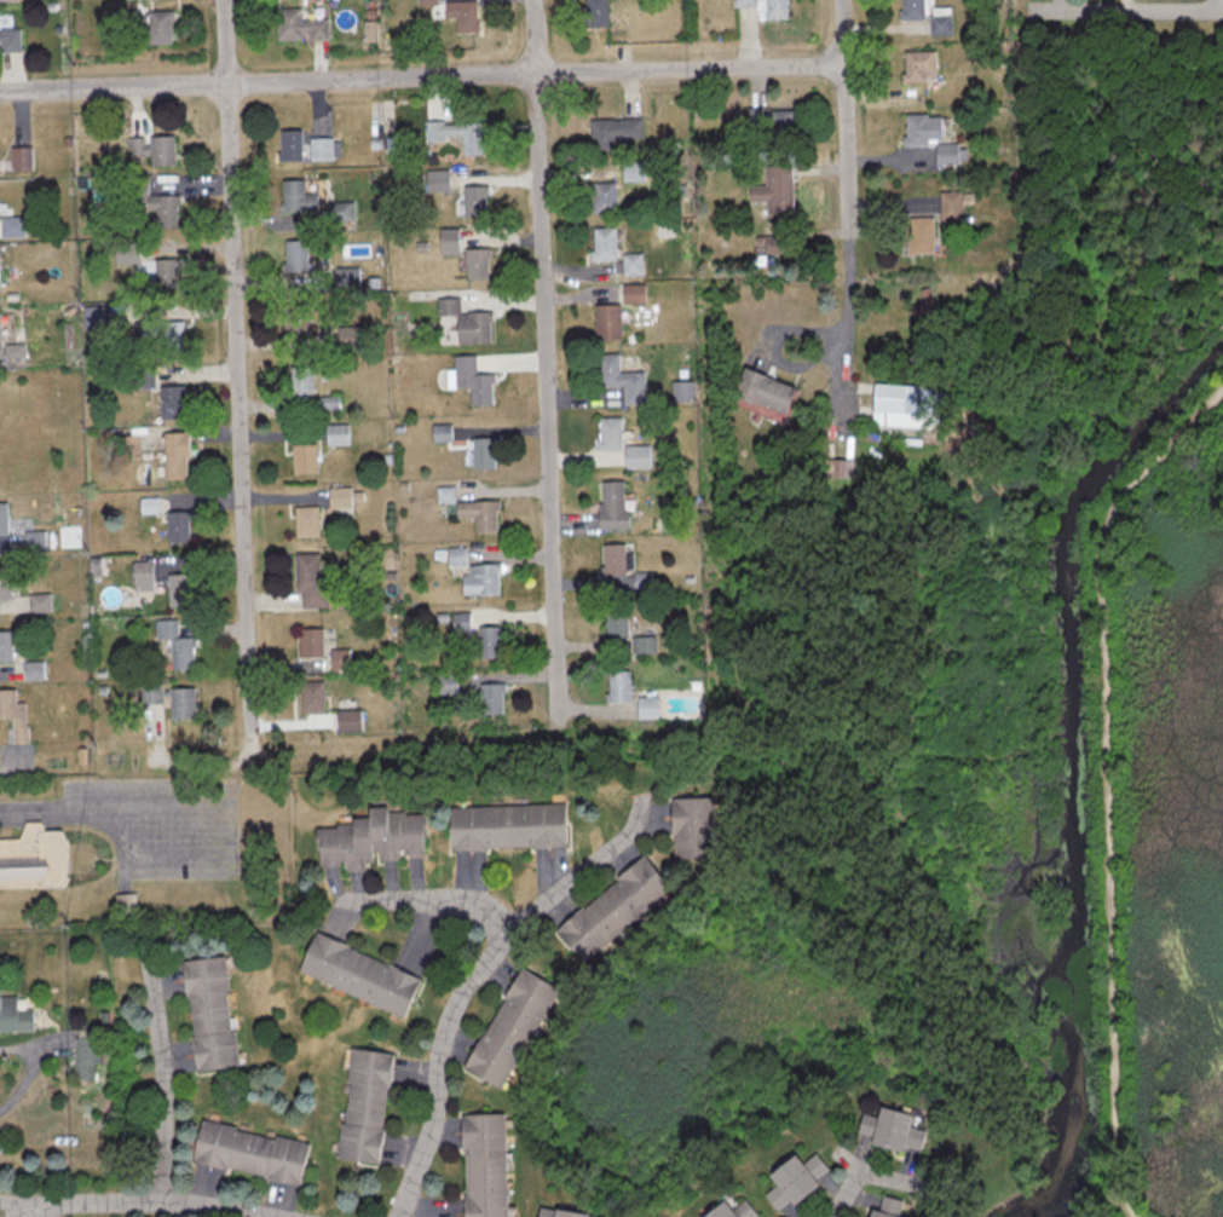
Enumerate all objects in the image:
building: (8, 0)
building: (765, 7)
building: (912, 10)
road: (1126, 11)
building: (593, 13)
building: (460, 16)
building: (298, 27)
building: (157, 28)
building: (10, 36)
building: (917, 67)
road: (422, 77)
road: (843, 116)
building: (769, 122)
building: (612, 131)
building: (457, 137)
building: (928, 137)
building: (287, 146)
building: (152, 149)
building: (319, 150)
building: (23, 158)
building: (773, 191)
building: (602, 197)
building: (295, 198)
building: (473, 202)
building: (158, 210)
building: (341, 215)
road: (1067, 220)
building: (948, 221)
building: (918, 236)
building: (446, 242)
building: (601, 244)
building: (126, 253)
building: (294, 256)
building: (474, 264)
building: (630, 265)
building: (0, 267)
building: (161, 276)
building: (346, 278)
building: (631, 294)
building: (922, 301)
road: (844, 311)
building: (294, 321)
building: (466, 323)
building: (605, 323)
building: (162, 336)
building: (10, 339)
road: (546, 352)
road: (233, 373)
building: (619, 379)
building: (302, 381)
building: (472, 381)
building: (761, 393)
building: (177, 399)
building: (334, 402)
building: (907, 405)
building: (340, 433)
building: (607, 433)
building: (481, 452)
building: (180, 454)
building: (635, 456)
building: (306, 457)
building: (342, 495)
building: (610, 504)
building: (483, 513)
building: (5, 518)
building: (308, 520)
building: (180, 526)
building: (621, 571)
building: (168, 577)
building: (484, 578)
building: (6, 581)
building: (313, 581)
building: (42, 602)
park: (1127, 604)
building: (616, 621)
building: (492, 640)
building: (312, 642)
building: (179, 644)
building: (648, 644)
building: (7, 646)
building: (342, 657)
building: (36, 670)
building: (622, 686)
building: (152, 693)
building: (315, 696)
building: (491, 698)
building: (185, 703)
building: (651, 706)
building: (16, 713)
building: (353, 720)
road: (1107, 780)
road: (115, 804)
building: (512, 826)
building: (697, 826)
building: (376, 838)
building: (36, 854)
road: (157, 854)
road: (579, 876)
road: (423, 899)
building: (618, 907)
building: (364, 974)
building: (213, 1013)
building: (17, 1014)
building: (515, 1026)
building: (92, 1057)
road: (36, 1063)
road: (439, 1068)
road: (172, 1084)
building: (368, 1104)
building: (895, 1127)
building: (254, 1152)
building: (489, 1165)
building: (801, 1179)
road: (846, 1194)
road: (35, 1200)
road: (171, 1201)
building: (892, 1206)
road: (53, 1210)
building: (737, 1210)
building: (566, 1212)

